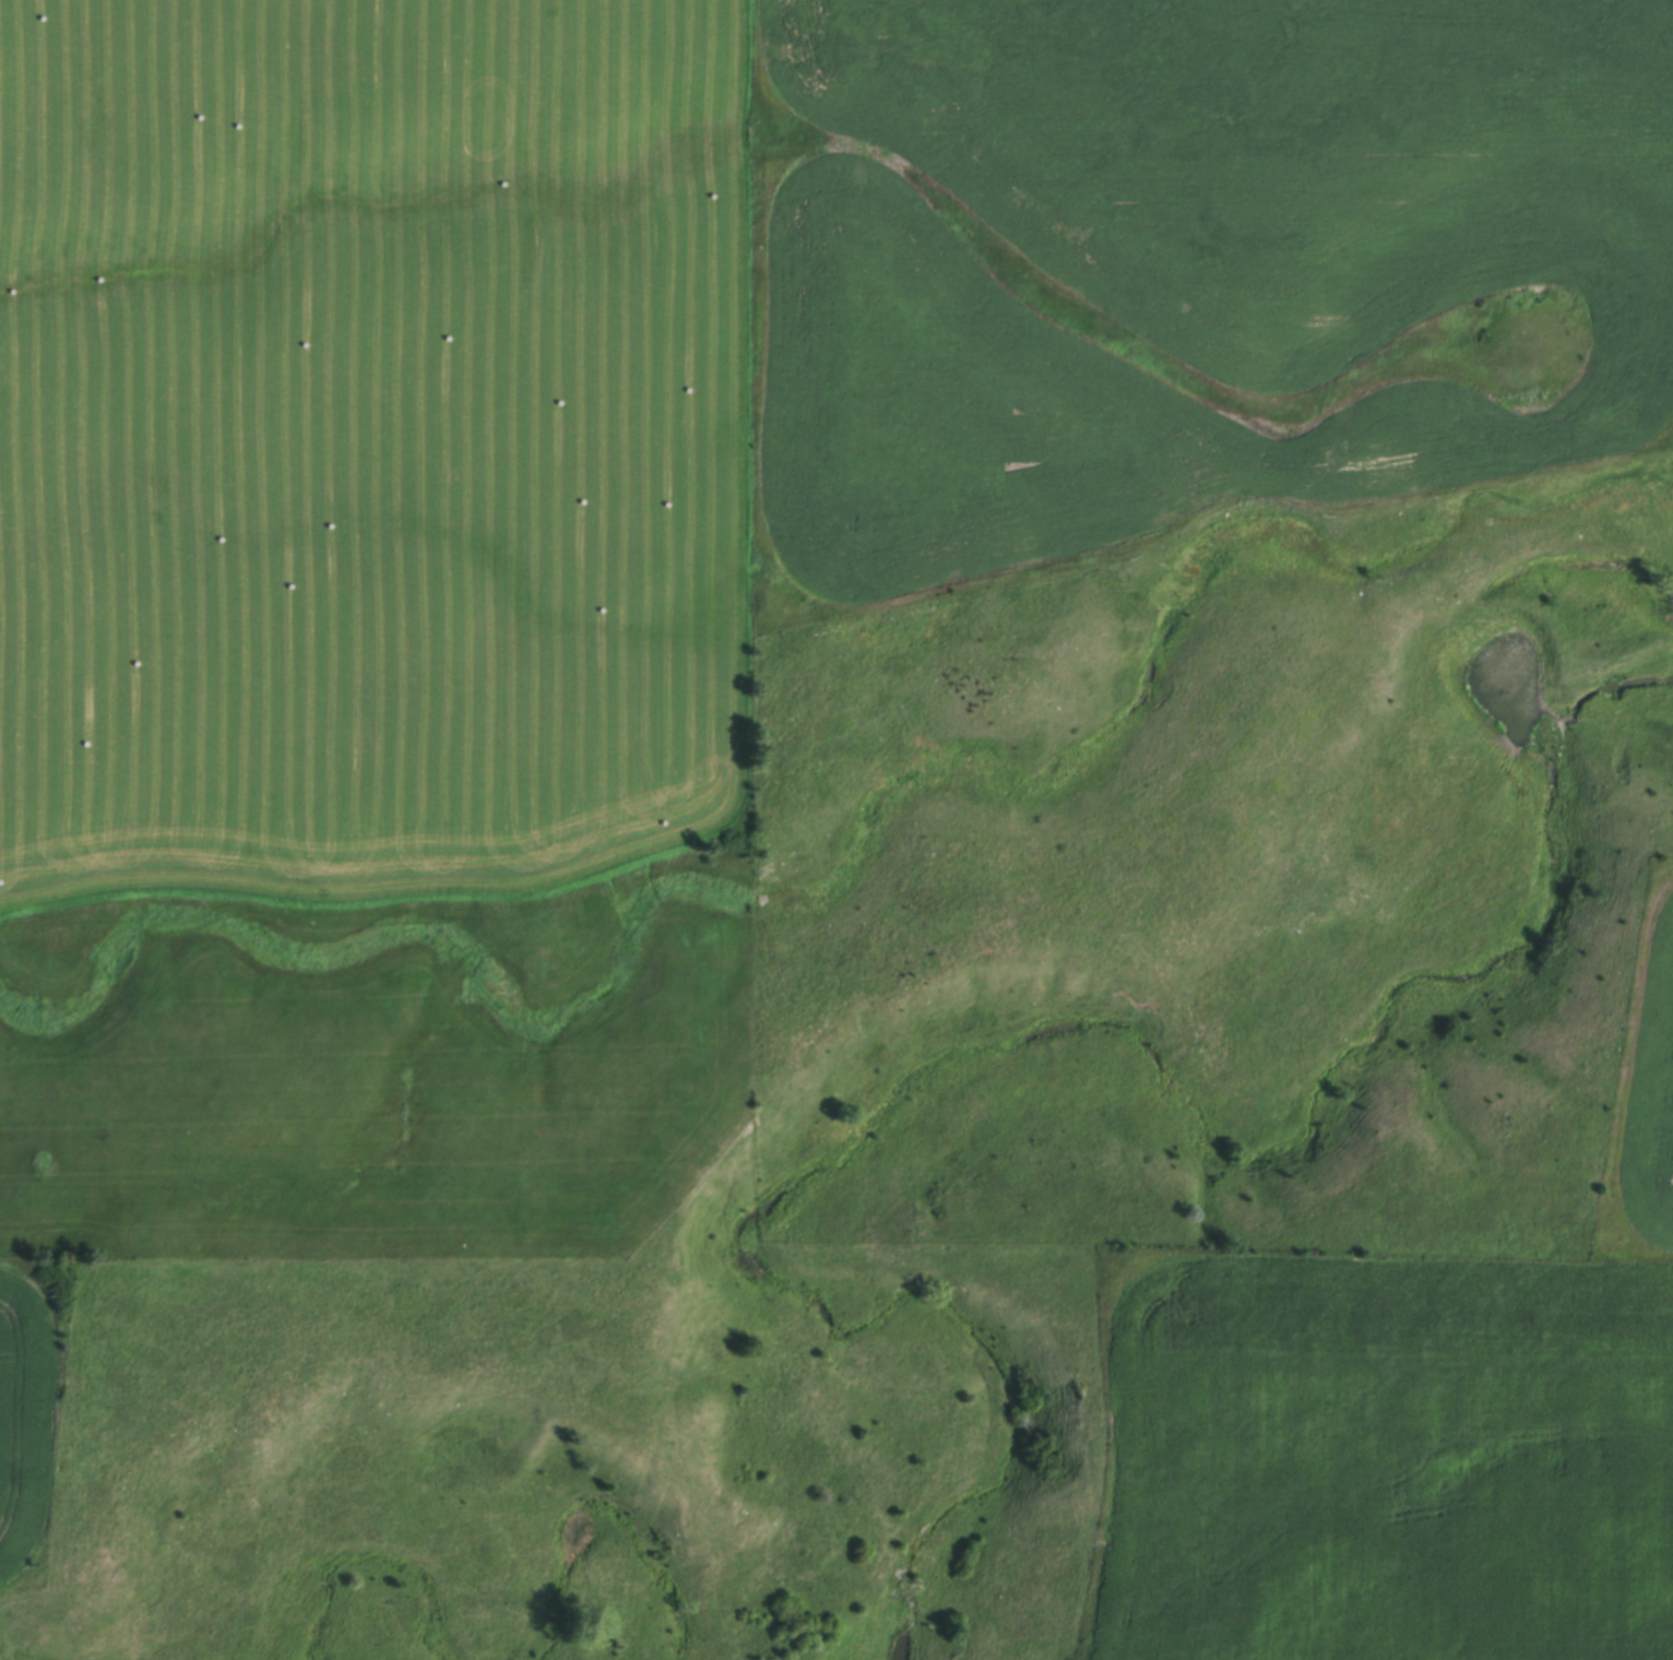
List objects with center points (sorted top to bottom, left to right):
river: (1502, 667)

